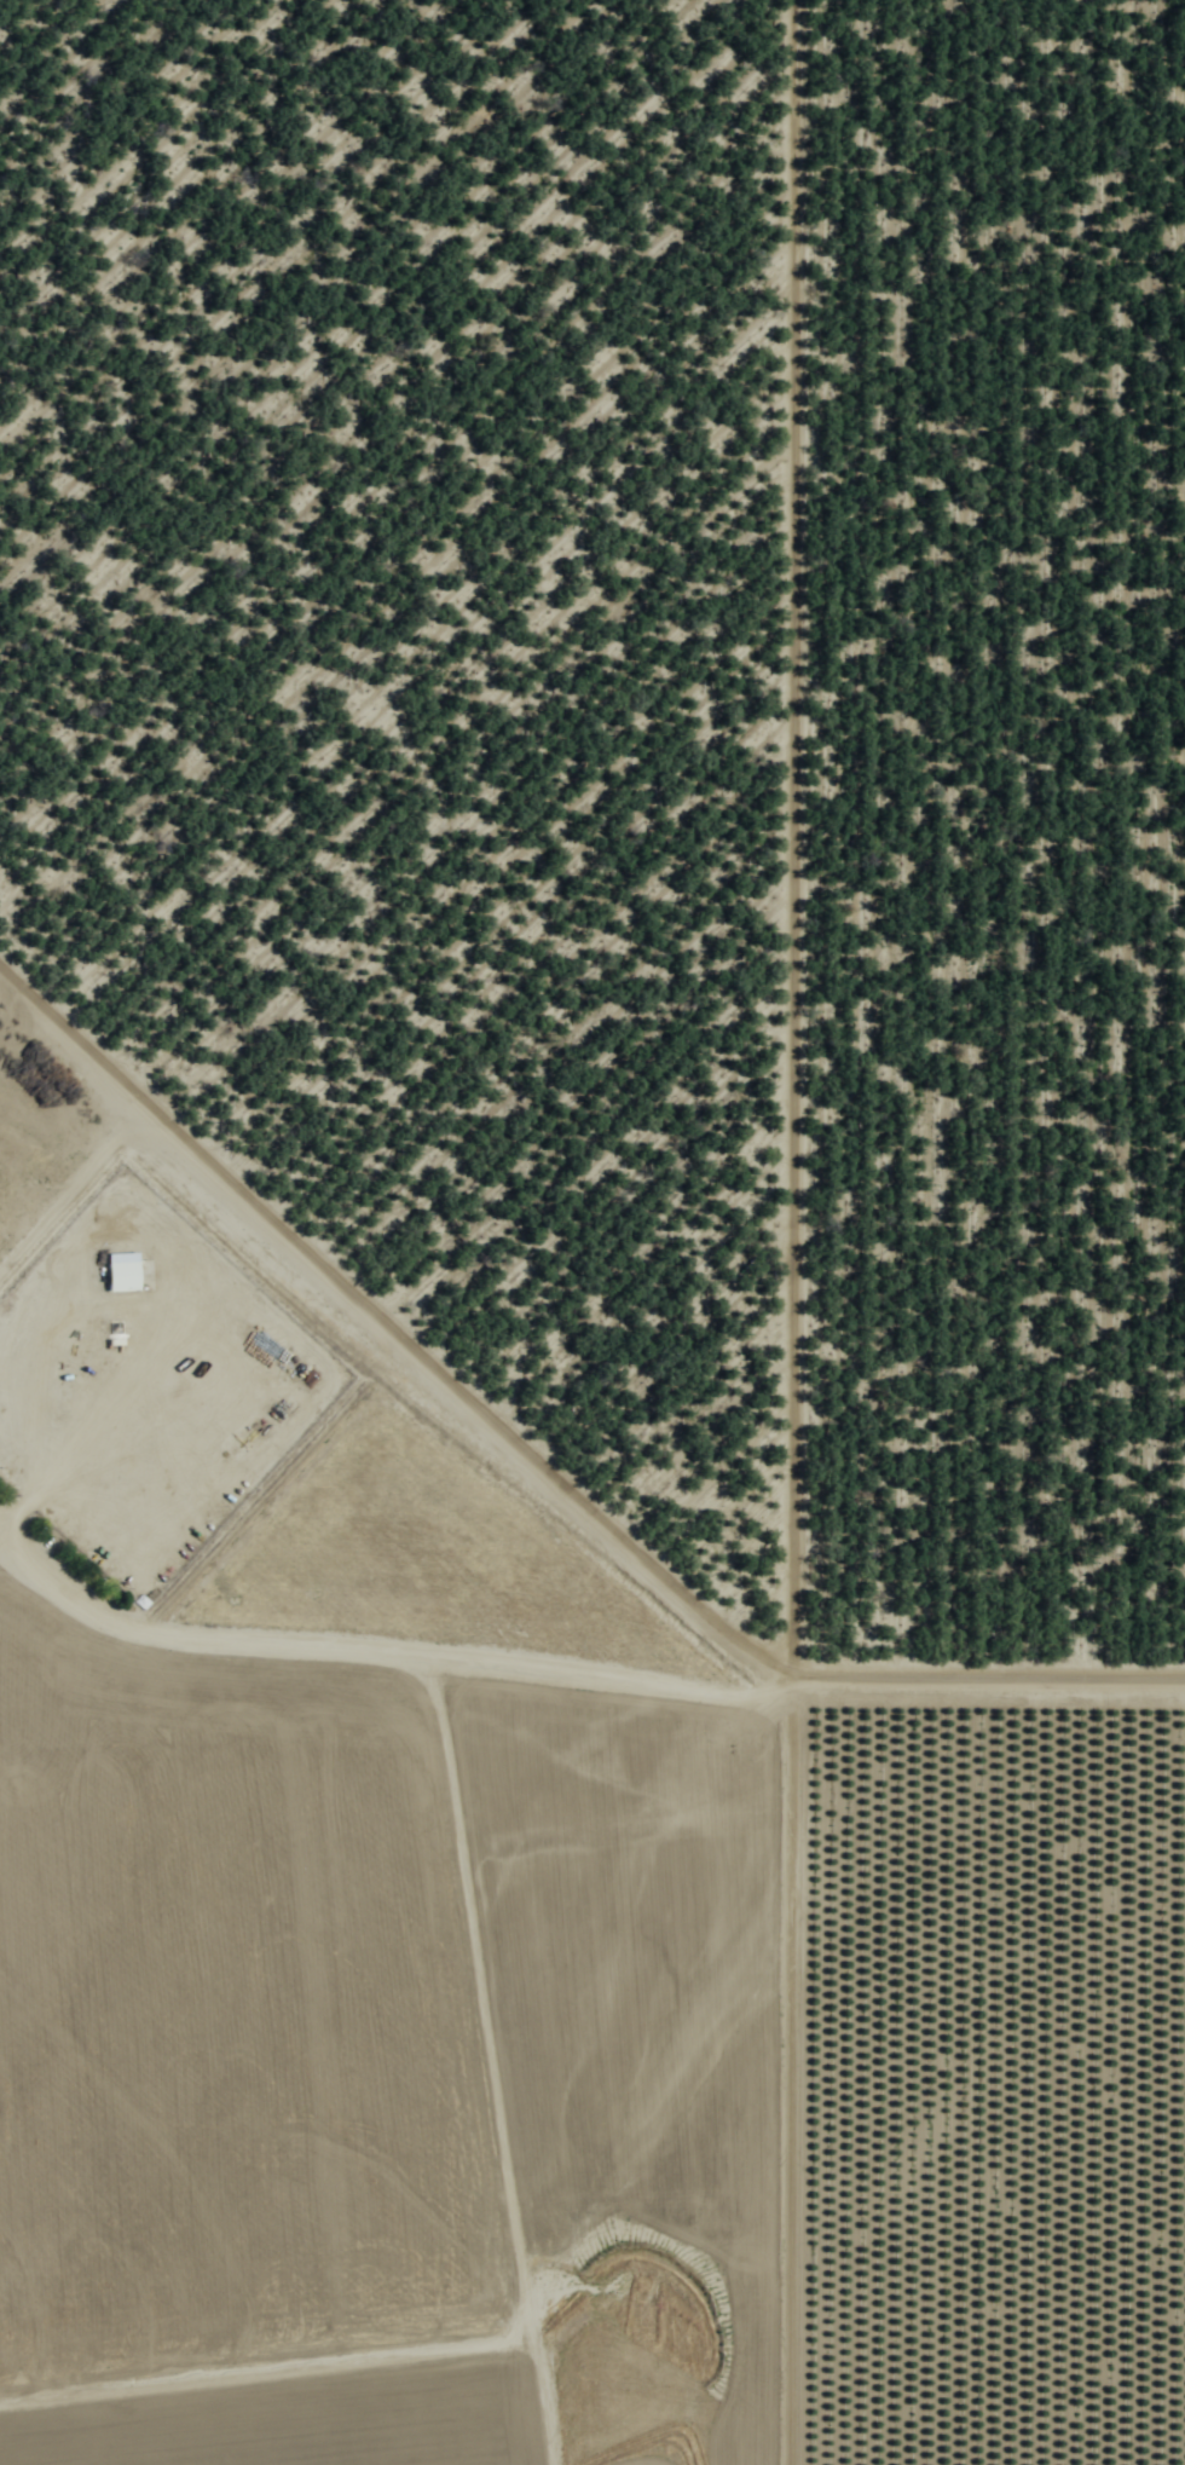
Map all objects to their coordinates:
building: (125, 1270)
crop: (1010, 2246)
crop: (67, 2435)

